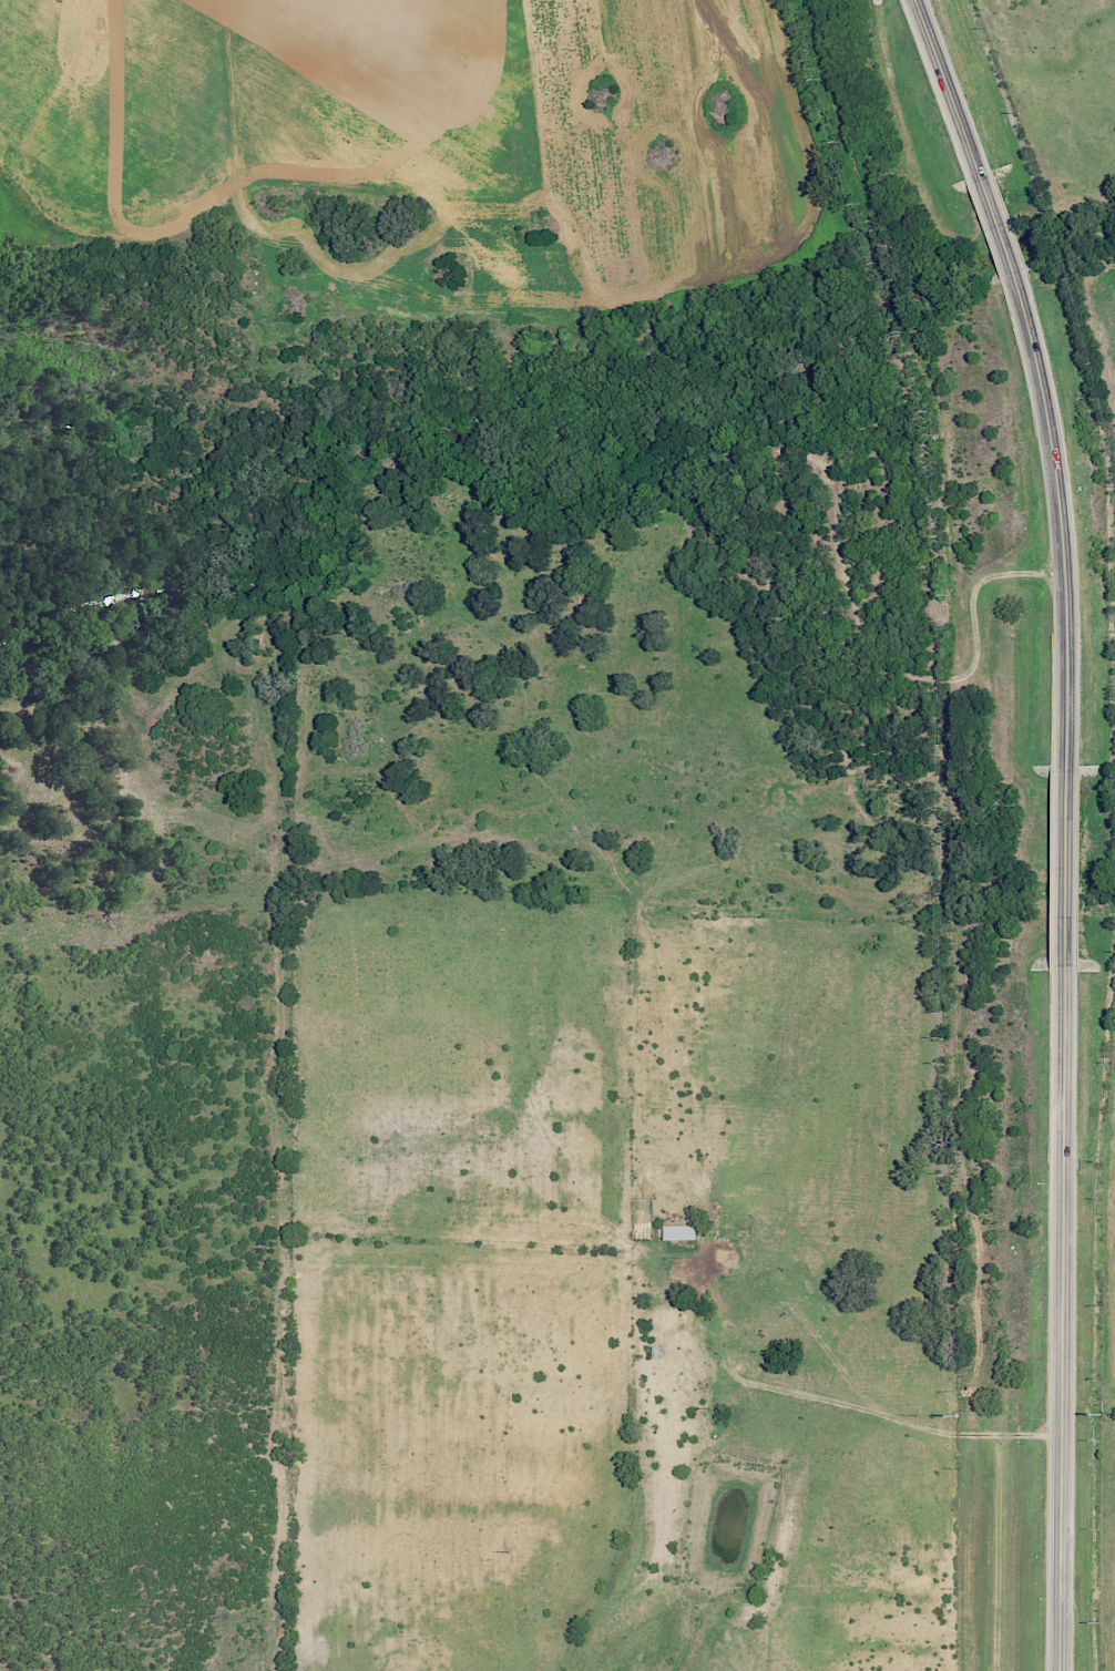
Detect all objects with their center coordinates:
road: (1031, 372)
road: (1062, 865)
building: (682, 1231)
road: (1057, 1318)

